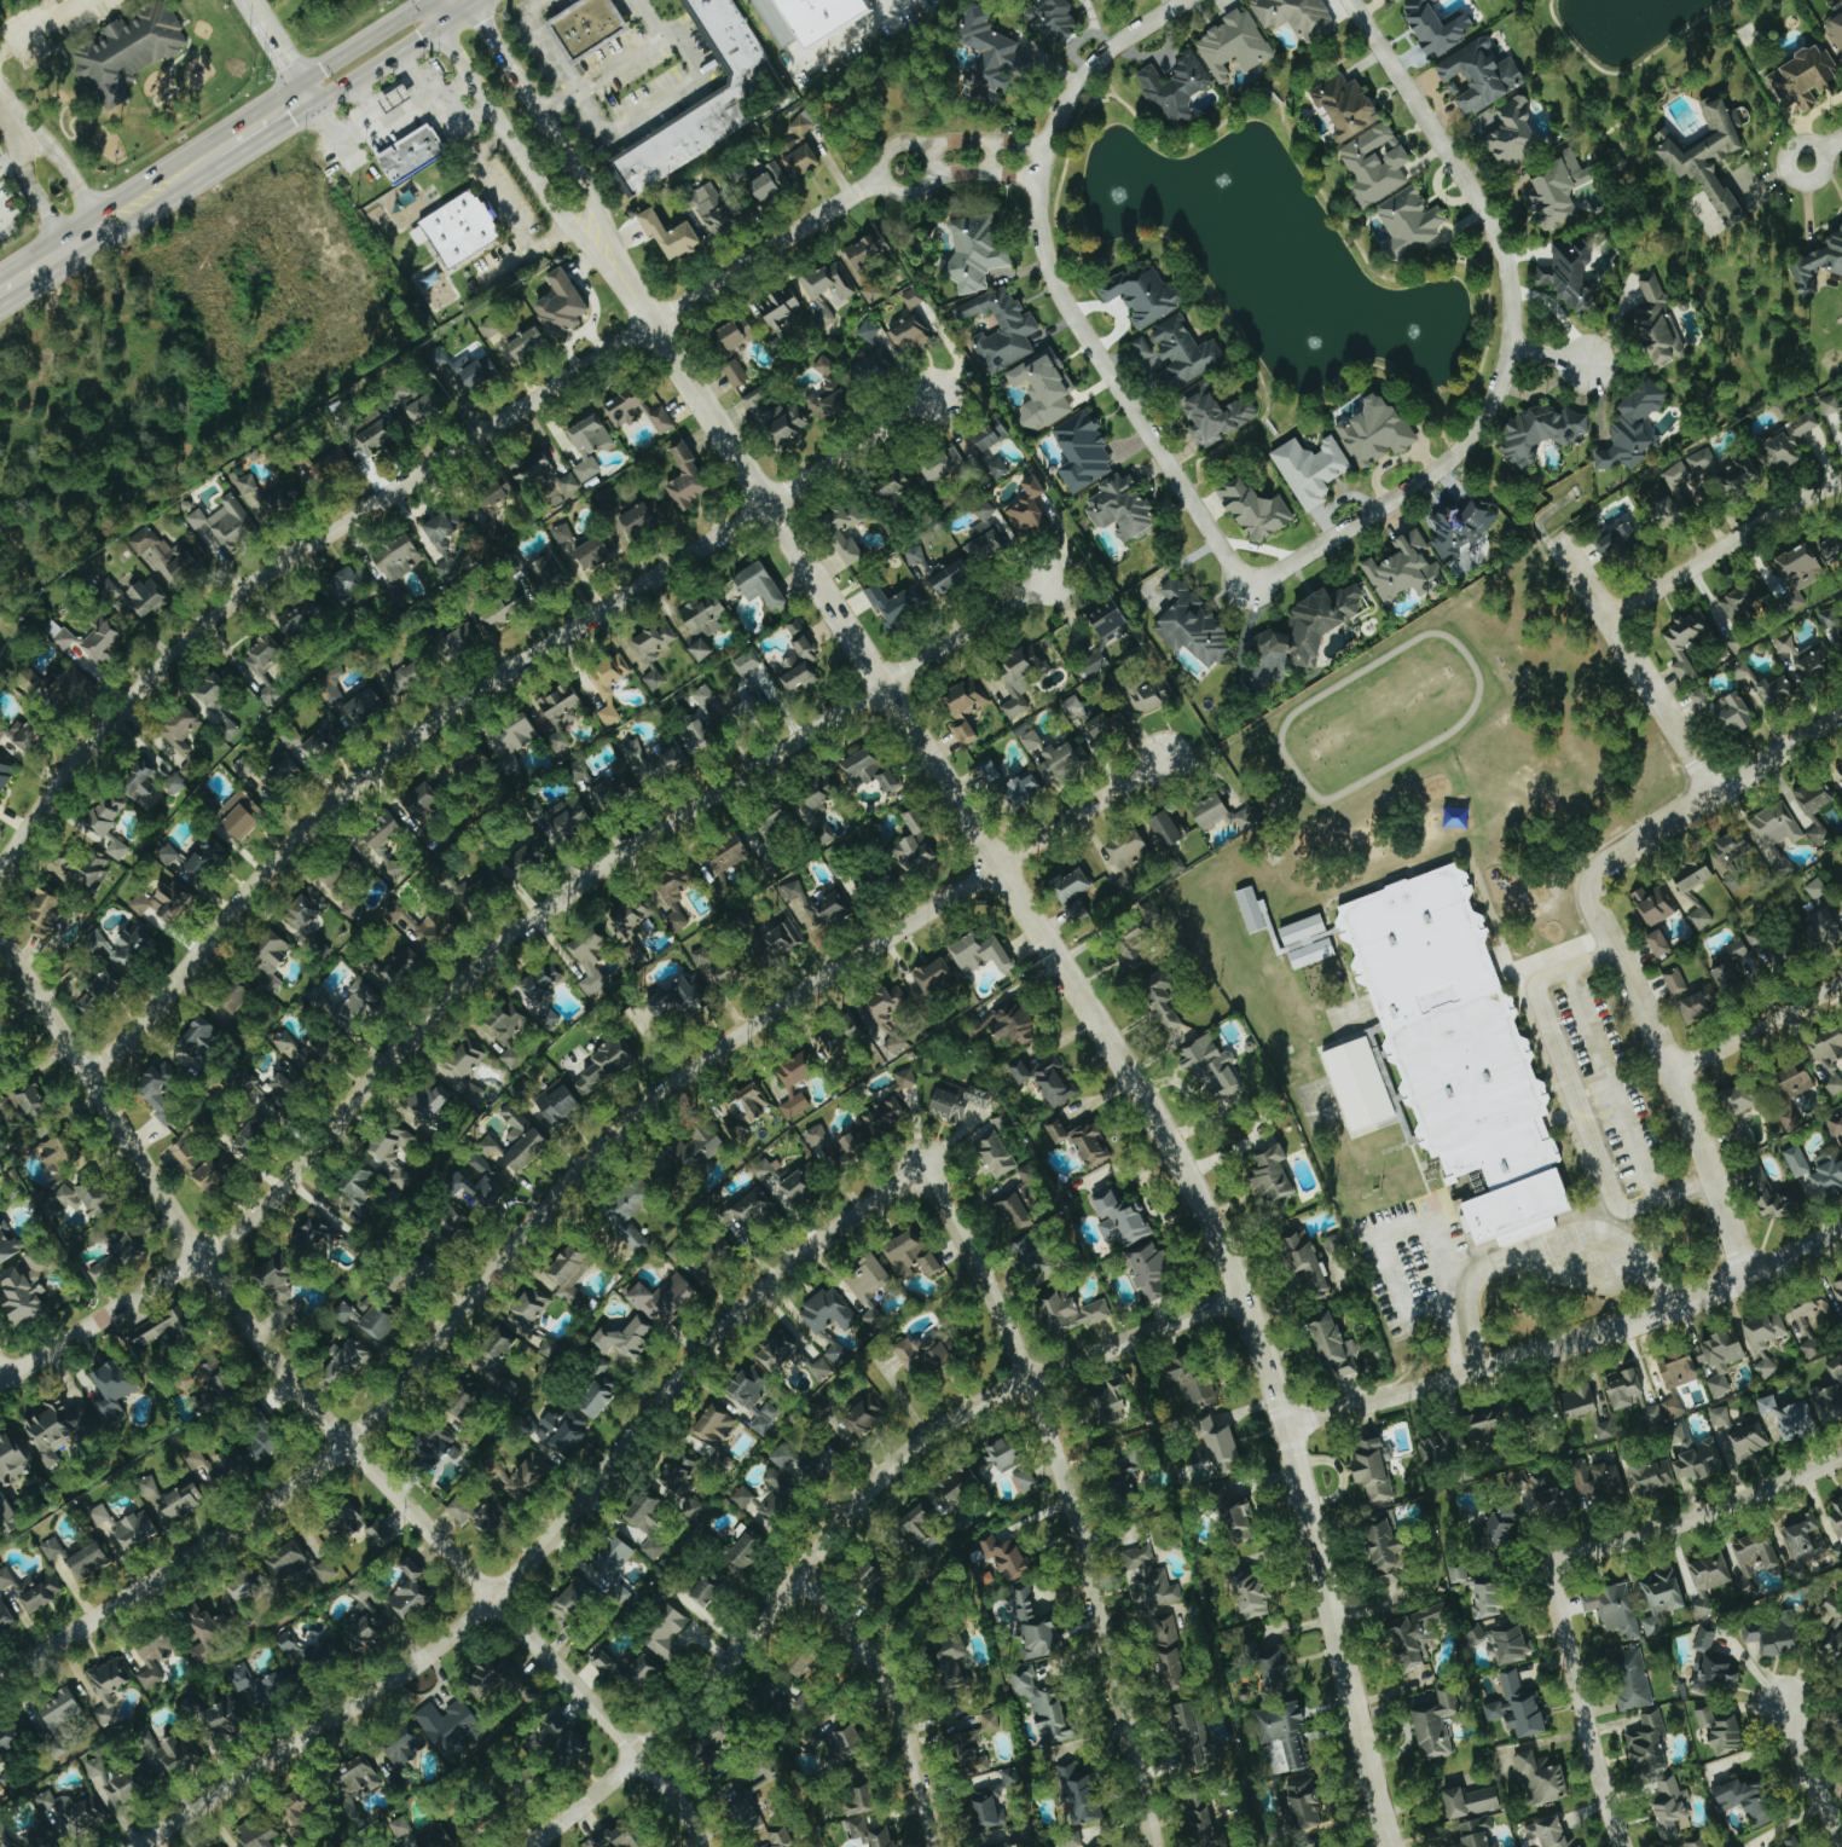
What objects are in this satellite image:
road: (423, 1)
building: (1105, 1)
building: (1400, 1)
traffic signals: (422, 2)
road: (469, 5)
road: (480, 5)
traffic signals: (473, 10)
road: (430, 17)
building: (1296, 17)
building: (826, 18)
building: (1054, 19)
road: (456, 21)
building: (776, 22)
road: (41, 25)
building: (589, 27)
building: (1437, 27)
building: (1836, 30)
traffic signals: (440, 31)
building: (1235, 46)
building: (129, 52)
road: (454, 54)
road: (284, 56)
building: (991, 58)
road: (618, 60)
road: (378, 71)
building: (1482, 76)
building: (1805, 79)
traffic signals: (300, 80)
building: (1176, 89)
road: (441, 99)
building: (705, 103)
road: (417, 105)
building: (1346, 106)
road: (256, 108)
road: (454, 110)
road: (541, 110)
traffic signals: (318, 112)
road: (15, 121)
road: (359, 126)
building: (1516, 135)
road: (270, 140)
road: (952, 140)
road: (1016, 146)
road: (1830, 146)
building: (800, 150)
road: (15, 155)
building: (412, 155)
road: (987, 156)
road: (522, 158)
building: (1711, 161)
road: (880, 162)
building: (1377, 164)
road: (1014, 169)
road: (958, 173)
road: (70, 179)
road: (1798, 180)
building: (770, 184)
building: (1559, 191)
road: (37, 199)
road: (163, 199)
building: (712, 209)
road: (510, 212)
building: (1412, 221)
building: (458, 230)
building: (671, 237)
building: (977, 250)
building: (864, 251)
road: (51, 259)
building: (1818, 266)
building: (1572, 274)
road: (1059, 288)
building: (826, 289)
building: (874, 293)
building: (913, 299)
building: (562, 306)
building: (781, 307)
building: (1020, 326)
building: (1658, 326)
building: (491, 329)
building: (869, 331)
building: (737, 332)
road: (1511, 334)
building: (909, 335)
building: (527, 346)
building: (1143, 348)
building: (1186, 351)
road: (1550, 355)
building: (826, 366)
building: (736, 372)
building: (1043, 393)
building: (828, 403)
building: (418, 404)
building: (1831, 405)
building: (637, 411)
building: (777, 417)
building: (1217, 417)
building: (1634, 427)
building: (1377, 432)
building: (373, 433)
building: (1541, 433)
building: (1791, 440)
building: (590, 445)
building: (984, 452)
building: (1084, 452)
building: (331, 464)
building: (943, 465)
building: (532, 468)
building: (1313, 469)
building: (688, 479)
building: (893, 484)
building: (1682, 487)
road: (406, 488)
building: (270, 496)
building: (492, 497)
building: (1122, 508)
road: (1511, 508)
building: (1029, 509)
building: (1257, 510)
building: (639, 519)
building: (1462, 527)
building: (845, 531)
building: (563, 534)
building: (986, 537)
building: (1622, 540)
road: (1721, 549)
building: (444, 550)
building: (1834, 550)
building: (570, 552)
building: (593, 552)
building: (167, 554)
building: (915, 555)
building: (399, 558)
building: (549, 573)
building: (1798, 574)
building: (952, 577)
building: (349, 581)
building: (761, 585)
building: (147, 597)
building: (1744, 600)
building: (893, 602)
building: (504, 610)
building: (705, 614)
building: (302, 618)
building: (1831, 619)
building: (1111, 621)
building: (1193, 625)
building: (1311, 626)
building: (795, 627)
building: (59, 635)
building: (459, 642)
building: (654, 642)
building: (103, 643)
building: (1686, 643)
building: (1738, 643)
building: (1785, 645)
building: (702, 650)
building: (747, 664)
building: (1096, 664)
building: (1814, 664)
building: (265, 666)
building: (800, 666)
road: (1634, 666)
building: (1743, 671)
building: (407, 677)
building: (1019, 678)
building: (655, 681)
building: (330, 685)
building: (1779, 690)
road: (480, 694)
building: (705, 695)
building: (1151, 695)
building: (607, 697)
building: (561, 702)
building: (365, 707)
building: (1073, 707)
building: (751, 708)
building: (216, 710)
building: (965, 710)
building: (1727, 713)
building: (1107, 725)
building: (181, 730)
building: (21, 736)
building: (699, 736)
building: (558, 740)
building: (1032, 741)
building: (325, 743)
building: (514, 743)
building: (1062, 760)
building: (654, 763)
building: (244, 768)
building: (468, 768)
building: (190, 769)
building: (1840, 769)
building: (870, 771)
building: (990, 771)
building: (5, 774)
building: (283, 775)
building: (141, 782)
building: (175, 783)
building: (613, 791)
building: (1024, 791)
building: (818, 794)
road: (1711, 794)
building: (1814, 798)
building: (422, 800)
building: (1212, 812)
building: (241, 815)
building: (564, 818)
building: (1245, 820)
building: (777, 821)
building: (106, 826)
building: (1777, 826)
building: (1168, 829)
building: (383, 832)
building: (916, 846)
building: (1733, 847)
building: (1129, 849)
building: (167, 855)
building: (726, 856)
building: (526, 857)
building: (203, 862)
building: (82, 868)
building: (390, 870)
building: (1693, 874)
building: (332, 876)
building: (1072, 885)
building: (1125, 885)
building: (1818, 890)
building: (473, 891)
building: (793, 891)
building: (1841, 896)
building: (672, 897)
building: (164, 902)
building: (1655, 905)
building: (352, 908)
building: (829, 910)
building: (1253, 910)
building: (305, 911)
building: (1079, 911)
building: (394, 913)
building: (42, 914)
building: (631, 916)
building: (1702, 919)
building: (436, 928)
building: (1824, 928)
building: (1304, 930)
building: (781, 940)
building: (1661, 944)
building: (123, 946)
building: (1136, 949)
building: (1313, 954)
road: (502, 955)
building: (981, 955)
building: (590, 959)
building: (270, 961)
building: (717, 968)
building: (936, 977)
building: (1730, 979)
building: (543, 982)
building: (1676, 982)
building: (99, 992)
road: (1077, 994)
building: (236, 998)
building: (679, 998)
building: (352, 1004)
building: (1699, 1006)
building: (1168, 1008)
building: (888, 1014)
building: (550, 1019)
building: (1014, 1023)
road: (1757, 1030)
building: (509, 1031)
building: (199, 1040)
building: (1458, 1049)
building: (303, 1053)
building: (5, 1055)
building: (1830, 1058)
building: (604, 1066)
building: (1213, 1066)
building: (464, 1070)
building: (1021, 1071)
building: (162, 1079)
building: (905, 1079)
road: (1673, 1079)
building: (1797, 1082)
building: (1053, 1083)
building: (795, 1084)
building: (283, 1087)
building: (1742, 1099)
road: (1572, 1101)
building: (429, 1102)
building: (962, 1102)
building: (558, 1104)
building: (33, 1106)
building: (745, 1111)
building: (887, 1116)
building: (1790, 1119)
building: (1002, 1123)
building: (1836, 1125)
building: (251, 1136)
building: (1082, 1141)
building: (491, 1146)
building: (700, 1147)
building: (840, 1147)
building: (527, 1151)
building: (60, 1153)
building: (186, 1154)
building: (996, 1154)
building: (393, 1157)
building: (1798, 1162)
building: (765, 1169)
building: (1, 1171)
building: (1030, 1174)
building: (212, 1175)
building: (1273, 1175)
building: (1827, 1176)
building: (479, 1185)
building: (798, 1187)
building: (360, 1188)
road: (555, 1194)
building: (1776, 1197)
building: (83, 1200)
building: (1012, 1210)
building: (749, 1212)
building: (632, 1214)
building: (1122, 1218)
road: (1421, 1218)
building: (454, 1227)
road: (1535, 1251)
building: (1032, 1253)
building: (913, 1255)
building: (117, 1257)
building: (1308, 1258)
building: (419, 1272)
building: (1151, 1272)
building: (1838, 1290)
building: (25, 1291)
building: (283, 1293)
building: (665, 1298)
building: (528, 1312)
building: (1074, 1312)
building: (369, 1319)
building: (828, 1321)
building: (1767, 1330)
building: (164, 1331)
building: (627, 1339)
building: (1333, 1342)
road: (1568, 1344)
building: (550, 1349)
building: (1812, 1349)
building: (780, 1354)
building: (922, 1356)
building: (1721, 1360)
building: (497, 1361)
building: (347, 1365)
building: (601, 1367)
building: (1766, 1367)
building: (1836, 1370)
building: (1680, 1371)
road: (2, 1374)
building: (221, 1379)
building: (1193, 1386)
building: (751, 1388)
building: (1626, 1388)
building: (114, 1390)
building: (598, 1399)
building: (1580, 1402)
building: (1112, 1403)
building: (1830, 1406)
building: (464, 1407)
building: (1664, 1413)
road: (319, 1414)
building: (1720, 1417)
building: (1790, 1418)
building: (766, 1419)
building: (863, 1419)
building: (716, 1426)
building: (1606, 1430)
building: (58, 1431)
building: (562, 1432)
building: (1747, 1441)
building: (263, 1443)
building: (435, 1446)
building: (1222, 1448)
building: (1440, 1449)
building: (1007, 1454)
building: (1696, 1455)
building: (1131, 1466)
building: (218, 1467)
building: (1374, 1470)
building: (528, 1476)
building: (1653, 1476)
building: (11, 1480)
building: (1026, 1480)
building: (1599, 1481)
building: (684, 1486)
building: (958, 1487)
building: (743, 1498)
road: (1065, 1498)
building: (172, 1499)
building: (776, 1501)
building: (480, 1515)
road: (846, 1515)
building: (1238, 1519)
road: (1667, 1521)
building: (1838, 1522)
building: (363, 1527)
building: (920, 1527)
building: (126, 1528)
building: (1500, 1528)
road: (555, 1532)
building: (1389, 1547)
building: (53, 1550)
building: (748, 1551)
building: (1838, 1551)
building: (1756, 1553)
building: (89, 1559)
building: (1008, 1561)
building: (288, 1562)
building: (616, 1570)
building: (325, 1571)
building: (1459, 1574)
building: (874, 1579)
building: (1710, 1580)
building: (1151, 1581)
building: (1747, 1586)
building: (244, 1588)
building: (33, 1590)
building: (410, 1592)
building: (705, 1593)
building: (1252, 1594)
building: (1662, 1599)
building: (1489, 1602)
building: (573, 1605)
building: (1615, 1610)
building: (5, 1616)
building: (366, 1621)
building: (1834, 1626)
building: (1035, 1628)
building: (1419, 1633)
building: (666, 1635)
building: (204, 1638)
building: (1502, 1640)
building: (1774, 1640)
building: (312, 1652)
building: (1170, 1652)
building: (155, 1657)
building: (951, 1662)
building: (607, 1663)
building: (801, 1664)
building: (1714, 1669)
building: (642, 1672)
building: (1274, 1672)
building: (1632, 1679)
building: (503, 1685)
building: (262, 1686)
building: (109, 1687)
building: (1840, 1696)
road: (890, 1698)
building: (805, 1706)
building: (1045, 1708)
building: (1518, 1708)
building: (62, 1709)
building: (225, 1718)
building: (991, 1722)
building: (1436, 1722)
building: (451, 1727)
building: (1722, 1731)
building: (1286, 1733)
building: (16, 1736)
building: (1198, 1738)
road: (1598, 1738)
building: (562, 1739)
building: (845, 1742)
building: (1649, 1743)
building: (711, 1752)
building: (404, 1753)
building: (167, 1754)
building: (972, 1754)
road: (1814, 1760)
building: (532, 1779)
building: (1542, 1779)
building: (116, 1785)
building: (354, 1789)
building: (1079, 1794)
building: (994, 1801)
building: (1749, 1801)
building: (1305, 1802)
building: (1472, 1802)
building: (1673, 1810)
building: (297, 1812)
building: (757, 1819)
building: (867, 1819)
building: (58, 1822)
building: (1206, 1823)
building: (401, 1828)
building: (1477, 1832)
building: (257, 1834)
building: (1551, 1834)
building: (435, 1839)
building: (1698, 1841)
building: (1791, 1841)
building: (1319, 1843)
building: (1004, 1846)
building: (1111, 1846)

